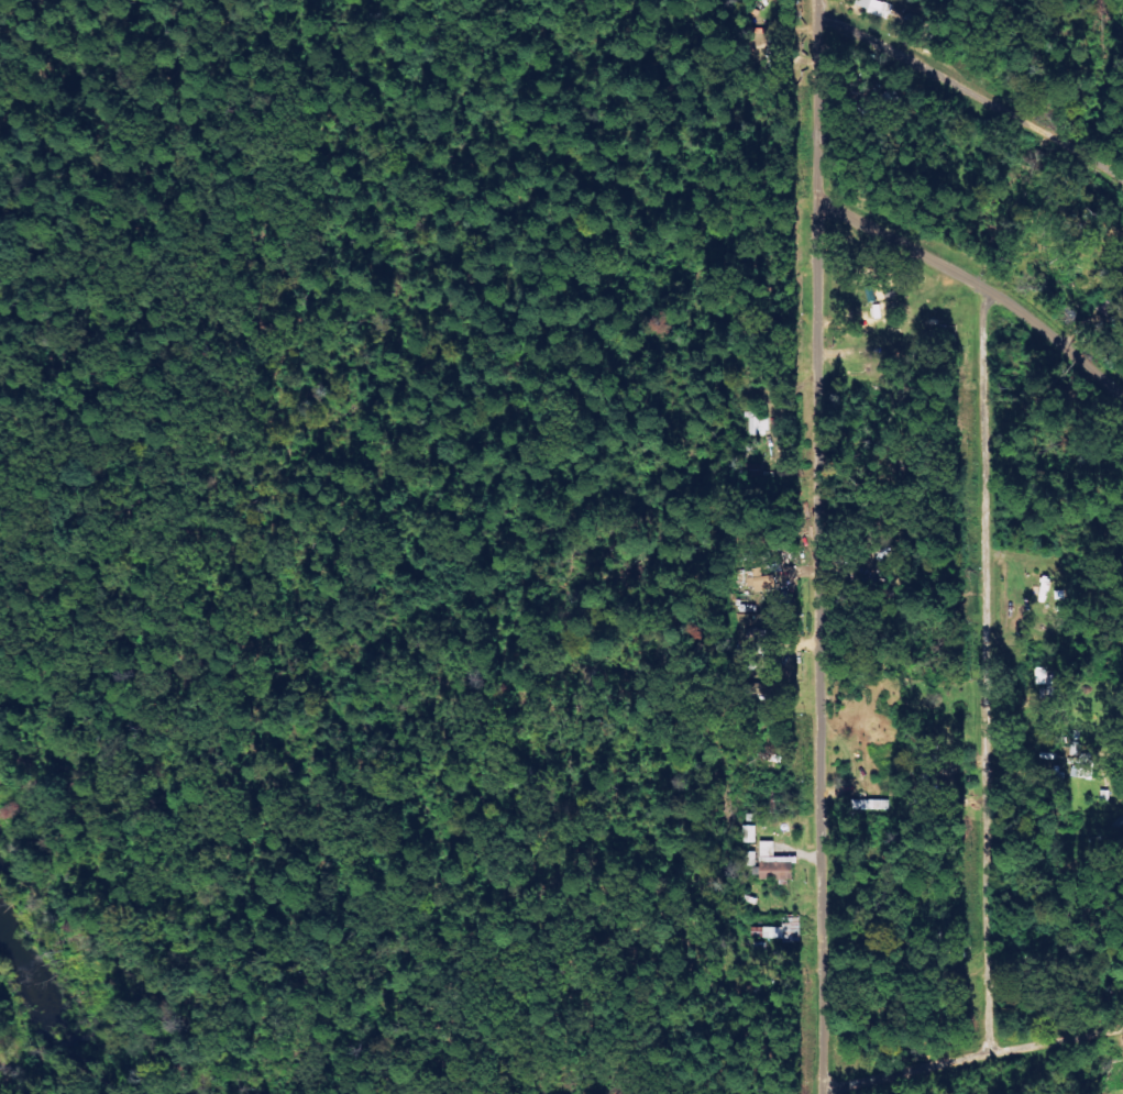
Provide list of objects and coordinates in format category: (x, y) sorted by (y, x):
building: (874, 7)
road: (968, 95)
road: (975, 285)
road: (814, 546)
road: (987, 670)
building: (774, 863)
building: (783, 931)
road: (970, 1053)

